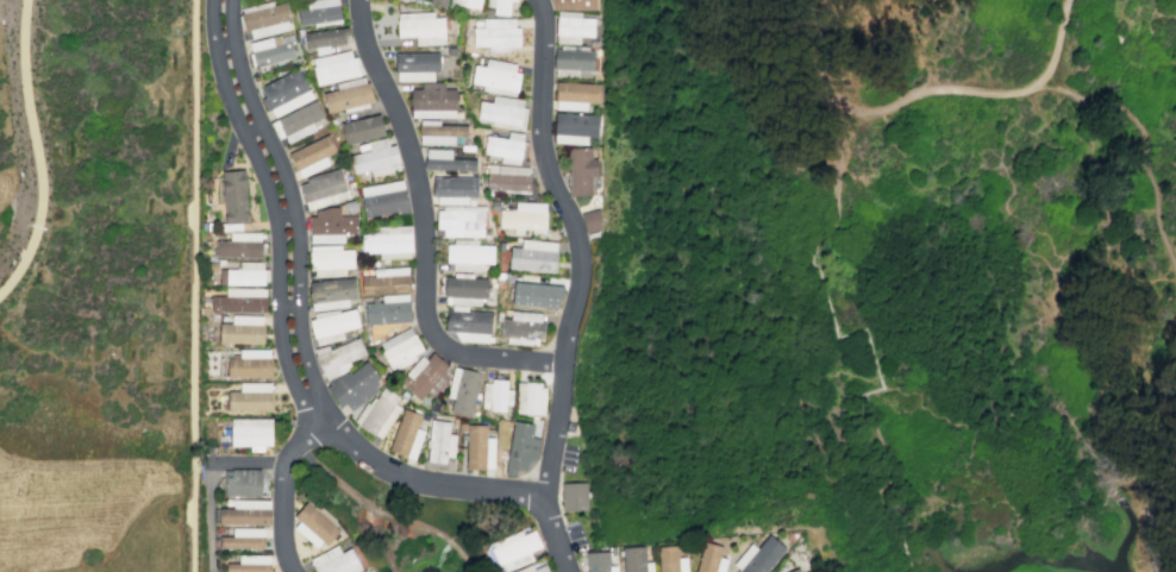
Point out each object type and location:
building: (514, 0)
building: (438, 1)
building: (467, 2)
building: (571, 4)
building: (499, 6)
building: (319, 13)
building: (264, 18)
building: (573, 25)
building: (420, 26)
building: (495, 33)
building: (325, 38)
road: (221, 42)
building: (270, 48)
building: (573, 57)
road: (824, 61)
building: (415, 65)
building: (334, 67)
building: (496, 76)
building: (284, 92)
building: (576, 92)
building: (348, 95)
building: (432, 100)
building: (502, 111)
building: (295, 122)
building: (576, 124)
building: (362, 128)
road: (250, 130)
building: (439, 132)
building: (503, 146)
road: (33, 150)
road: (840, 150)
building: (312, 155)
building: (375, 157)
road: (1137, 157)
building: (446, 161)
building: (581, 170)
building: (507, 178)
building: (323, 188)
building: (453, 188)
building: (234, 196)
building: (382, 197)
road: (290, 207)
road: (281, 213)
road: (270, 214)
building: (523, 216)
building: (459, 220)
building: (590, 220)
building: (331, 225)
road: (423, 231)
building: (387, 241)
building: (239, 245)
road: (576, 246)
building: (468, 253)
building: (533, 254)
building: (330, 259)
building: (244, 274)
building: (386, 281)
park: (888, 281)
road: (193, 285)
building: (463, 289)
building: (331, 293)
building: (536, 294)
building: (239, 301)
road: (286, 306)
building: (387, 309)
building: (332, 323)
building: (468, 323)
building: (521, 327)
building: (242, 329)
building: (400, 347)
building: (337, 356)
building: (250, 363)
building: (425, 376)
building: (354, 385)
building: (463, 389)
building: (496, 395)
building: (250, 396)
building: (528, 397)
building: (377, 413)
building: (251, 433)
building: (406, 434)
building: (439, 441)
building: (476, 446)
building: (520, 448)
parking lot: (568, 457)
road: (424, 480)
road: (207, 482)
building: (242, 482)
road: (332, 482)
road: (902, 486)
road: (282, 488)
building: (574, 496)
building: (245, 513)
building: (314, 524)
road: (431, 529)
road: (552, 534)
parking lot: (574, 536)
building: (243, 538)
road: (381, 542)
building: (514, 547)
building: (758, 555)
building: (634, 559)
building: (709, 559)
road: (1121, 559)
building: (334, 560)
building: (670, 560)
building: (596, 561)
building: (249, 564)
parking lot: (207, 565)
building: (531, 568)
building: (794, 570)
building: (369, 571)

